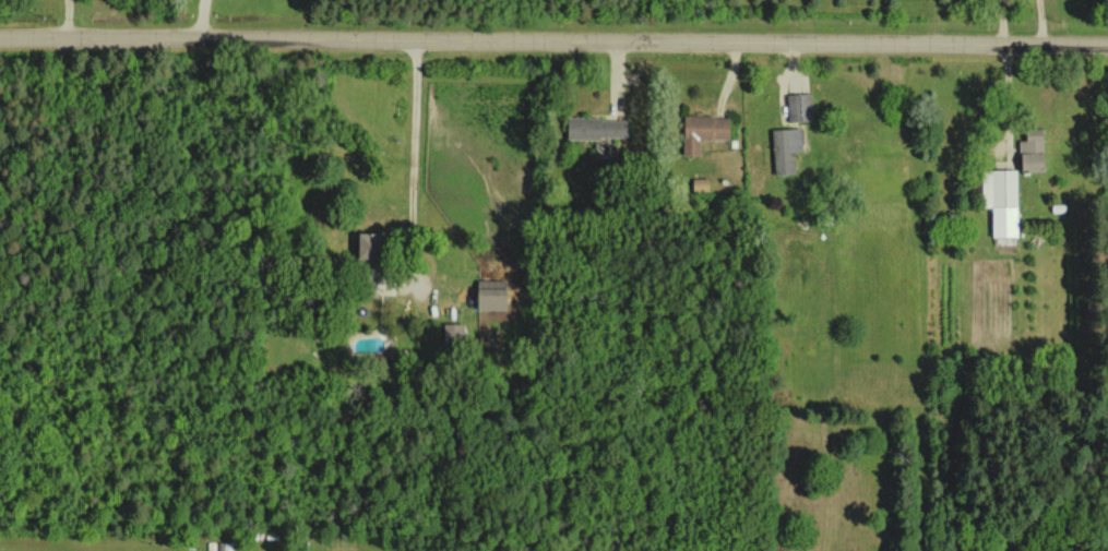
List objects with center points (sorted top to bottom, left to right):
road: (198, 19)
road: (993, 21)
road: (1033, 21)
road: (553, 39)
building: (799, 107)
building: (596, 128)
building: (702, 131)
building: (785, 148)
building: (1030, 149)
road: (415, 161)
building: (700, 184)
building: (1000, 200)
building: (365, 244)
building: (490, 295)
building: (453, 331)

